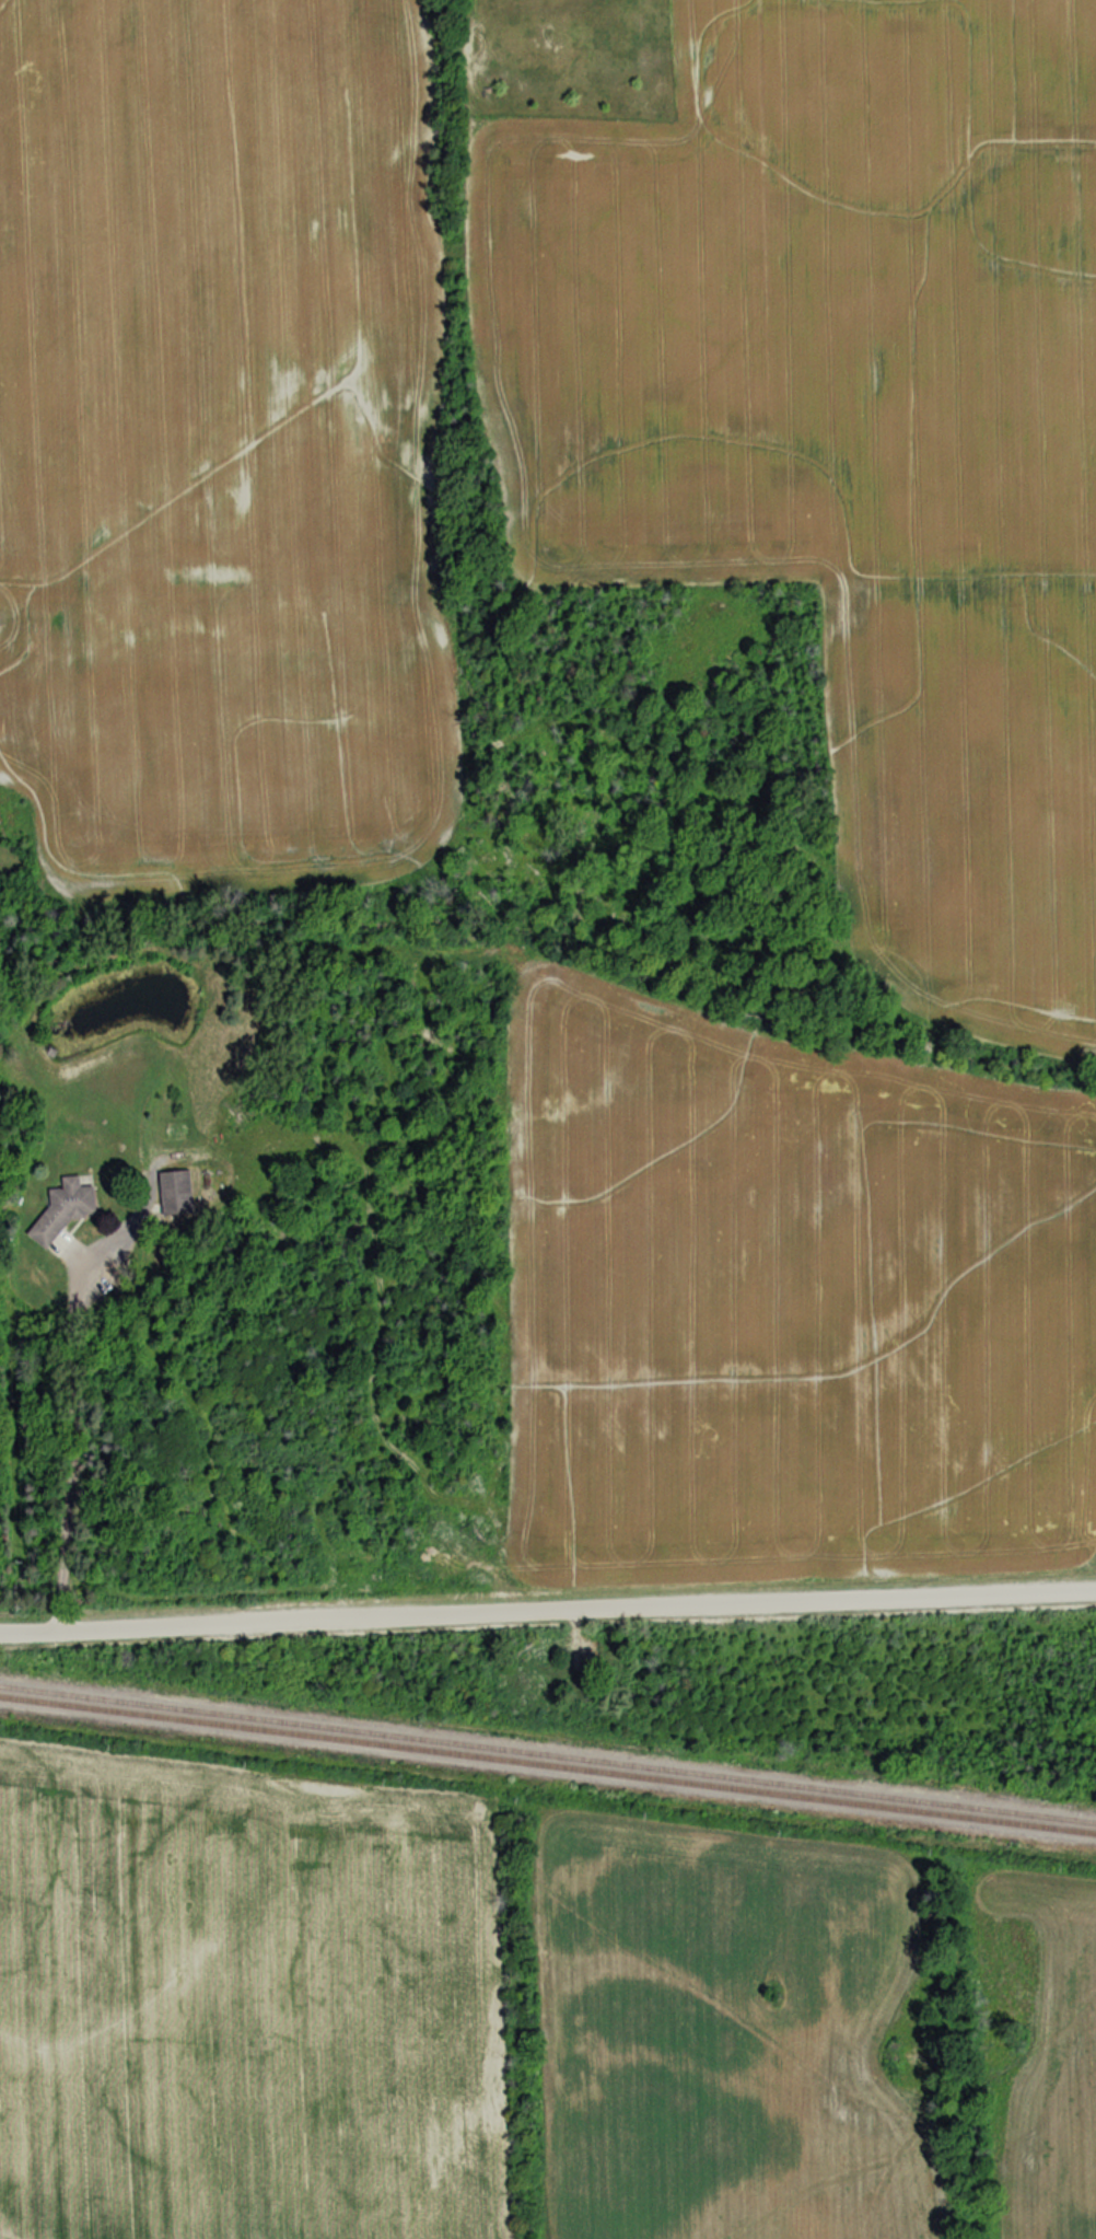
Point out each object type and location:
building: (174, 1192)
building: (62, 1207)
road: (548, 1610)
railway: (547, 1753)
railway: (548, 1764)

